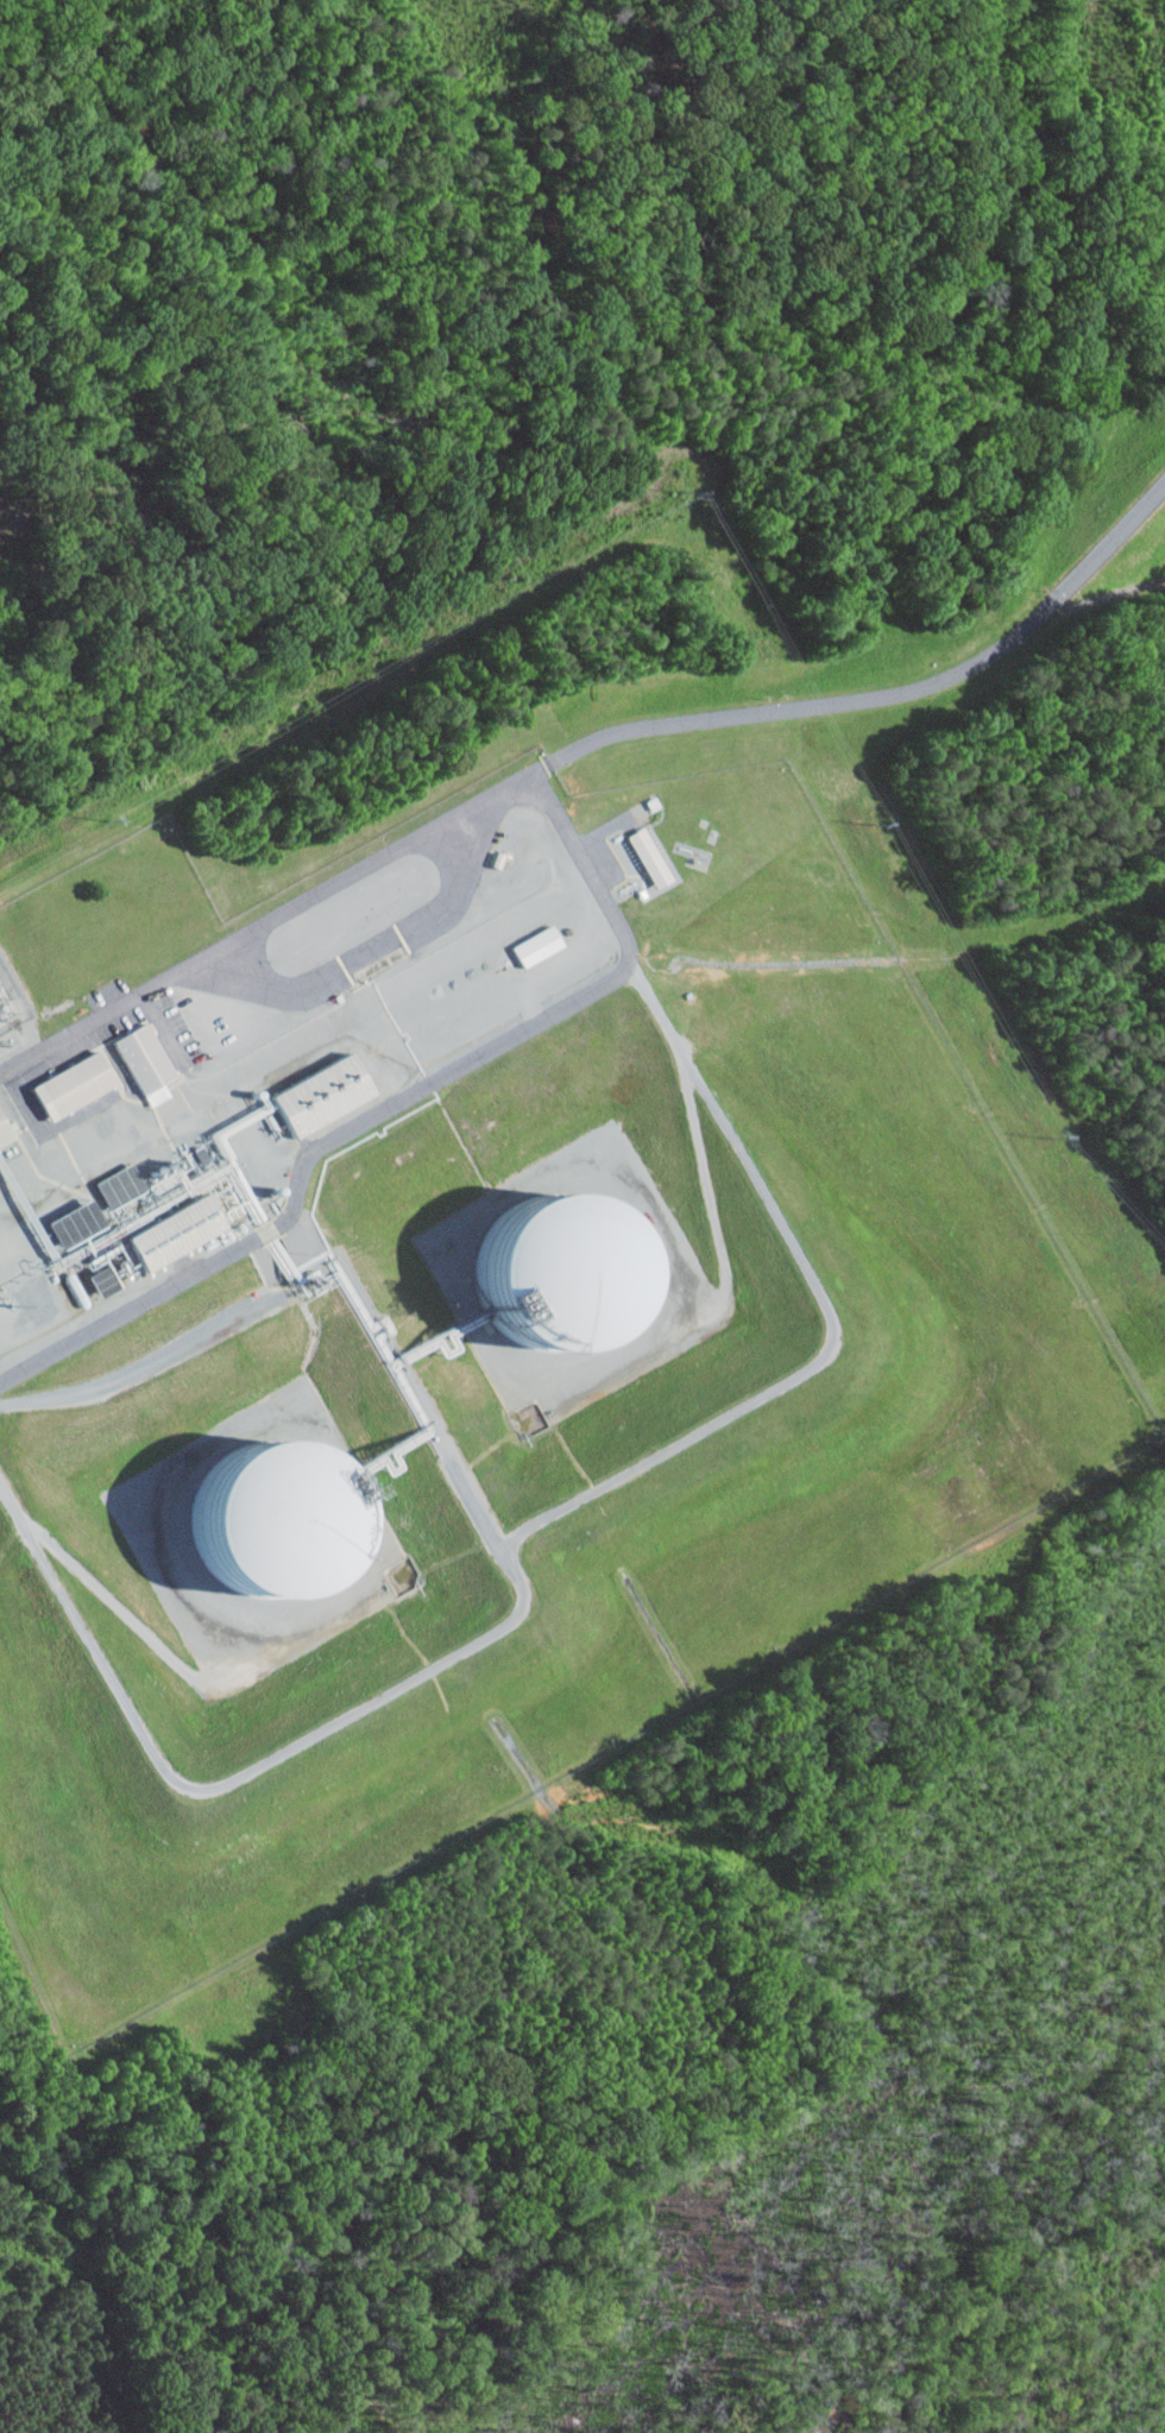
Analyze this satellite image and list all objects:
power tower: (687, 492)
road: (892, 692)
road: (547, 765)
power tower: (107, 820)
power tower: (875, 826)
building: (651, 856)
road: (269, 924)
building: (540, 945)
power substation: (11, 1011)
building: (146, 1061)
building: (75, 1083)
building: (322, 1093)
road: (392, 1102)
building: (5, 1130)
power tower: (1057, 1139)
building: (121, 1185)
building: (204, 1199)
building: (21, 1234)
building: (86, 1241)
river: (1016, 2269)

